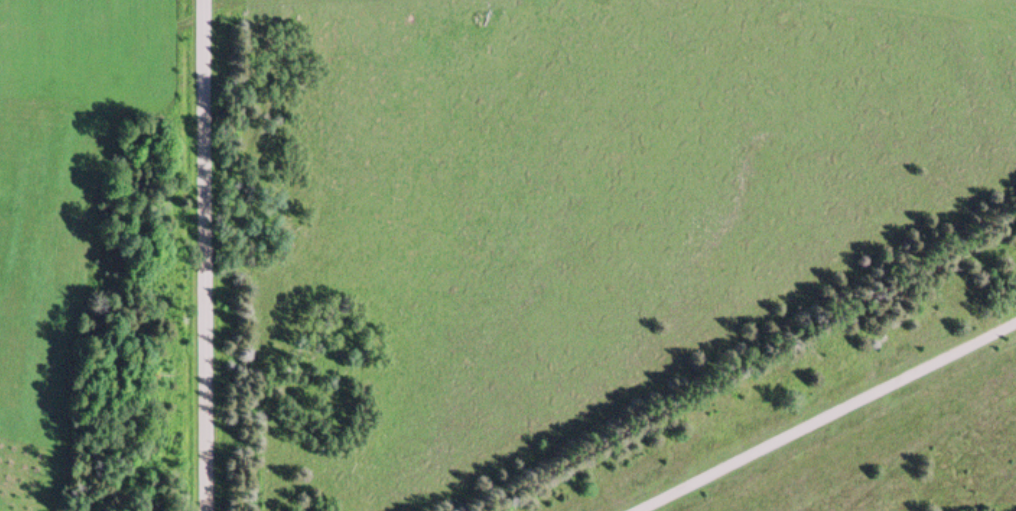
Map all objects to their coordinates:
road: (205, 255)
road: (827, 415)

